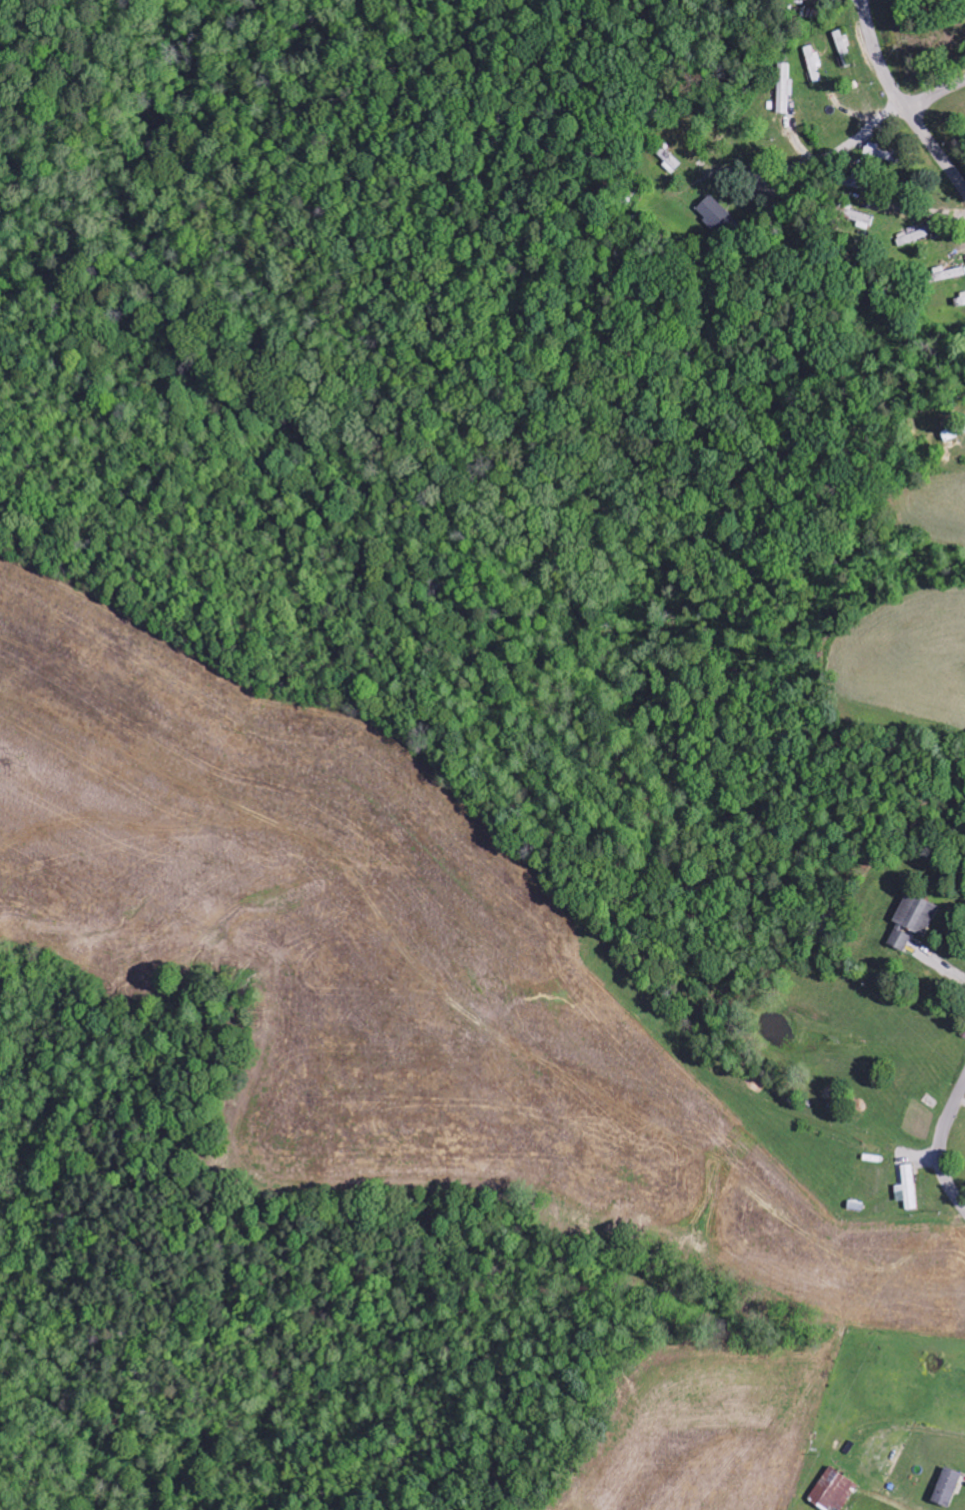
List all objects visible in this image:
building: (844, 49)
building: (814, 64)
building: (784, 89)
road: (934, 91)
road: (901, 102)
road: (869, 154)
building: (716, 216)
building: (861, 220)
building: (913, 238)
building: (949, 274)
building: (962, 300)
building: (914, 922)
road: (946, 1150)
building: (909, 1188)
building: (949, 1488)
building: (836, 1490)

